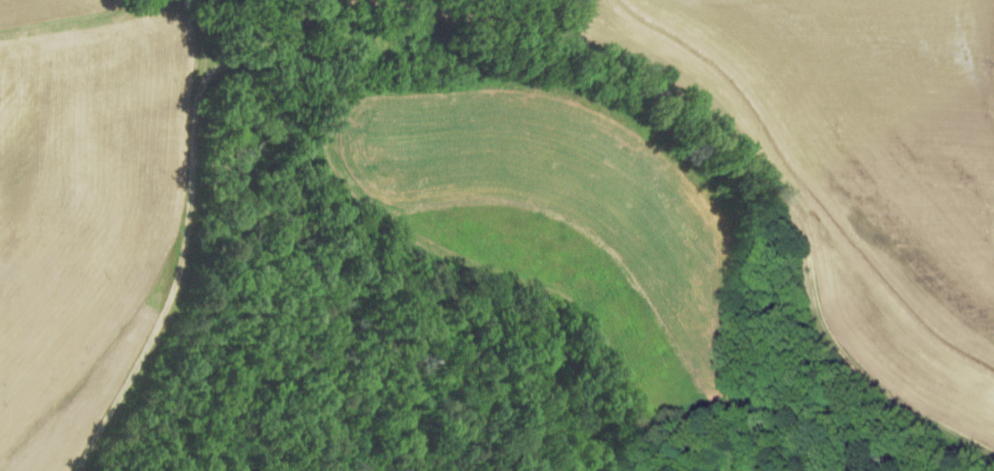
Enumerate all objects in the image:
road: (478, 19)

